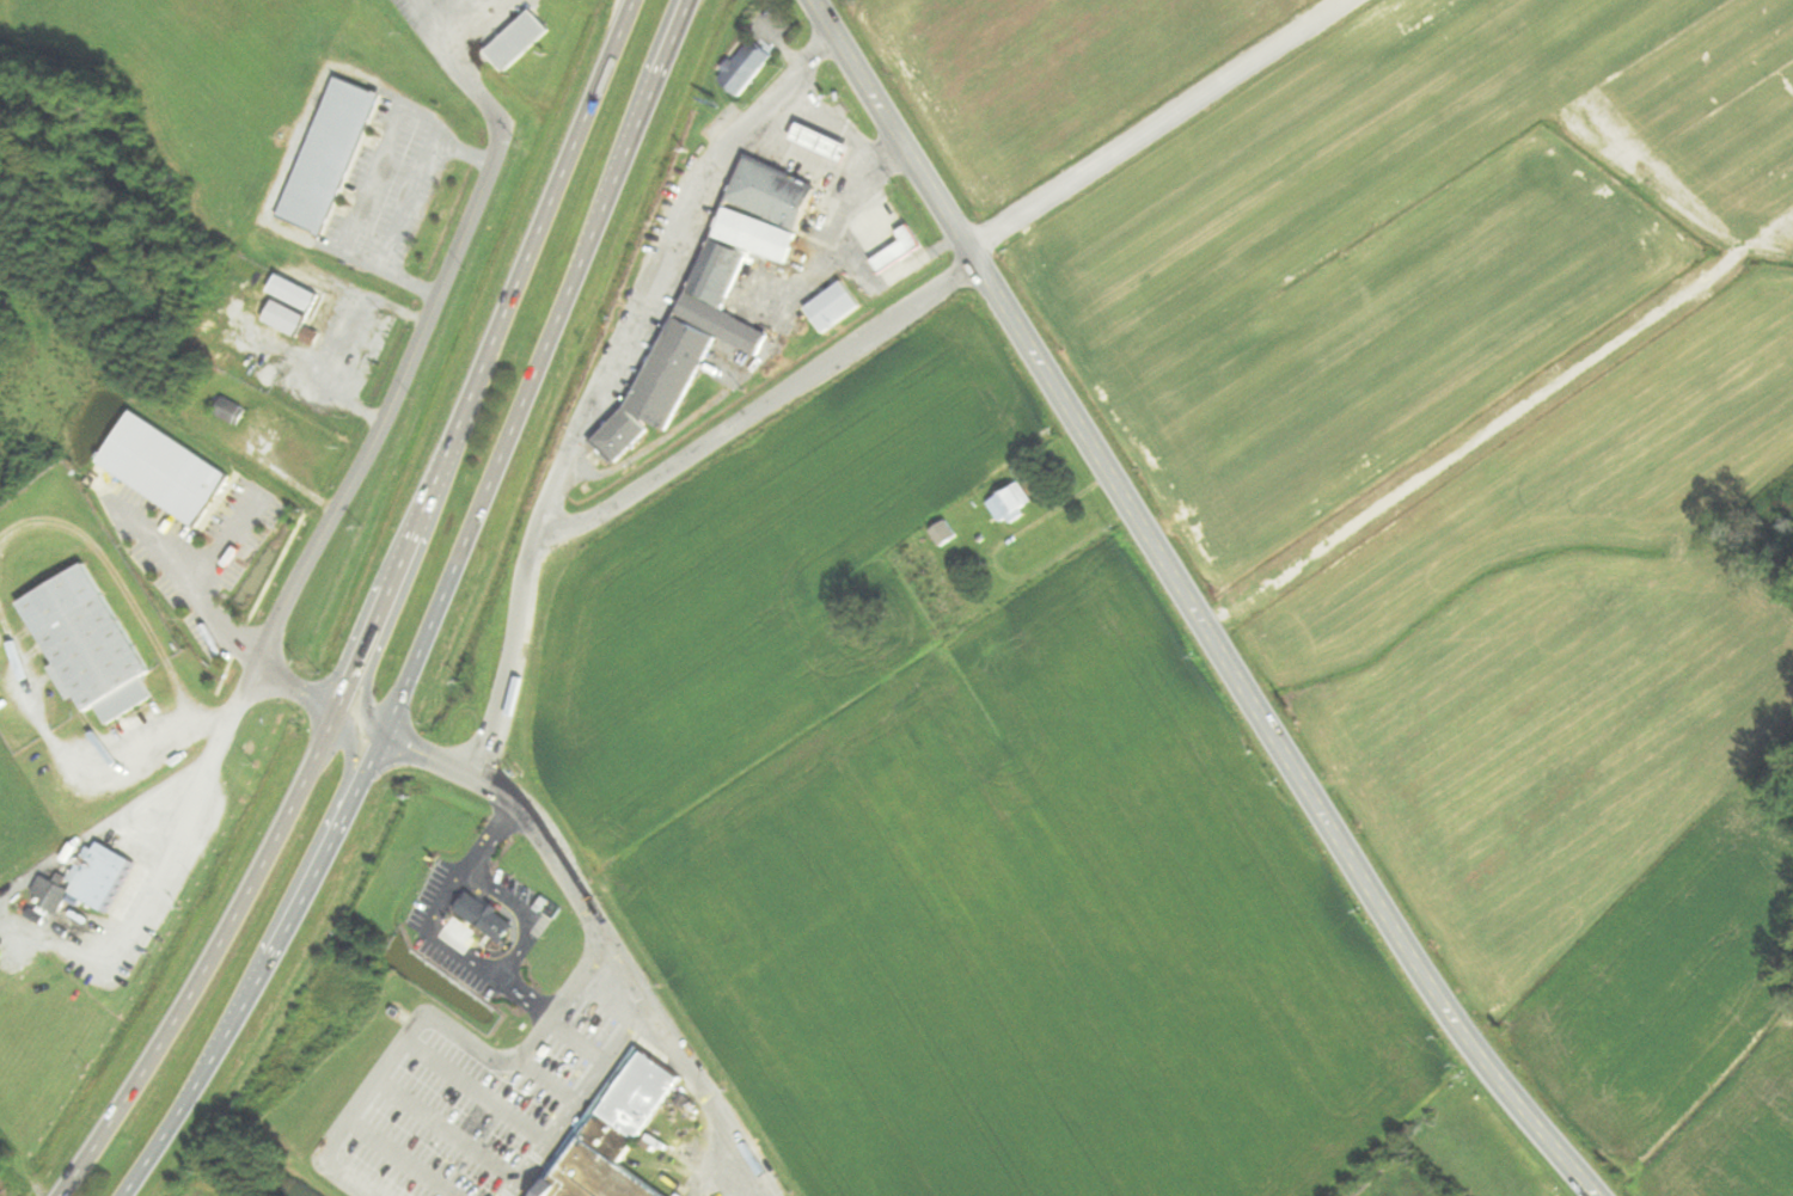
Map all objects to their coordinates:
road: (472, 23)
building: (521, 41)
building: (748, 68)
road: (301, 139)
building: (827, 143)
building: (333, 157)
road: (821, 166)
road: (377, 180)
road: (410, 210)
building: (901, 251)
building: (298, 293)
building: (715, 301)
building: (289, 318)
road: (604, 379)
road: (759, 406)
building: (233, 412)
road: (348, 484)
building: (1014, 504)
building: (198, 534)
building: (947, 534)
road: (1191, 605)
road: (440, 612)
road: (385, 613)
building: (91, 645)
road: (301, 689)
road: (368, 691)
road: (351, 766)
road: (471, 861)
building: (91, 881)
road: (526, 912)
building: (489, 918)
road: (608, 932)
road: (470, 955)
road: (530, 993)
road: (439, 1020)
road: (580, 1097)
building: (616, 1131)

